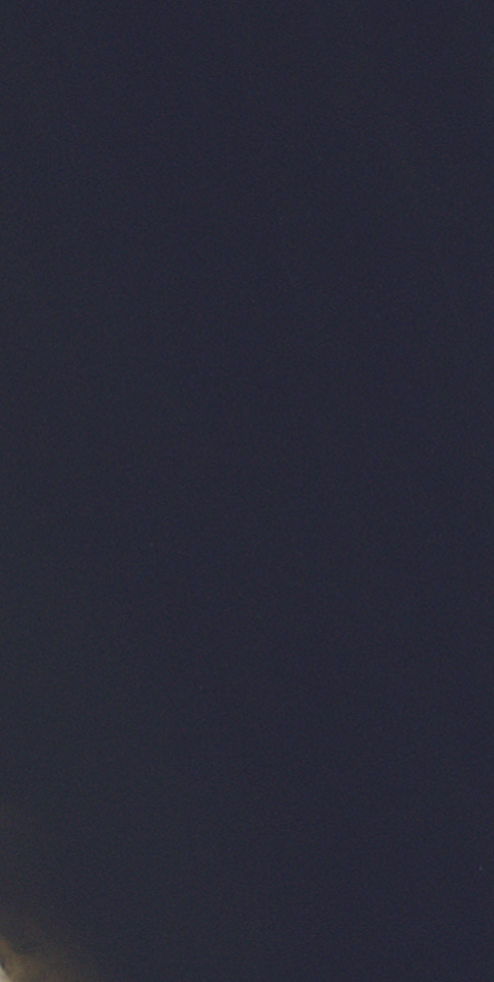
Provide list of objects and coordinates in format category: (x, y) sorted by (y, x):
river: (421, 155)

